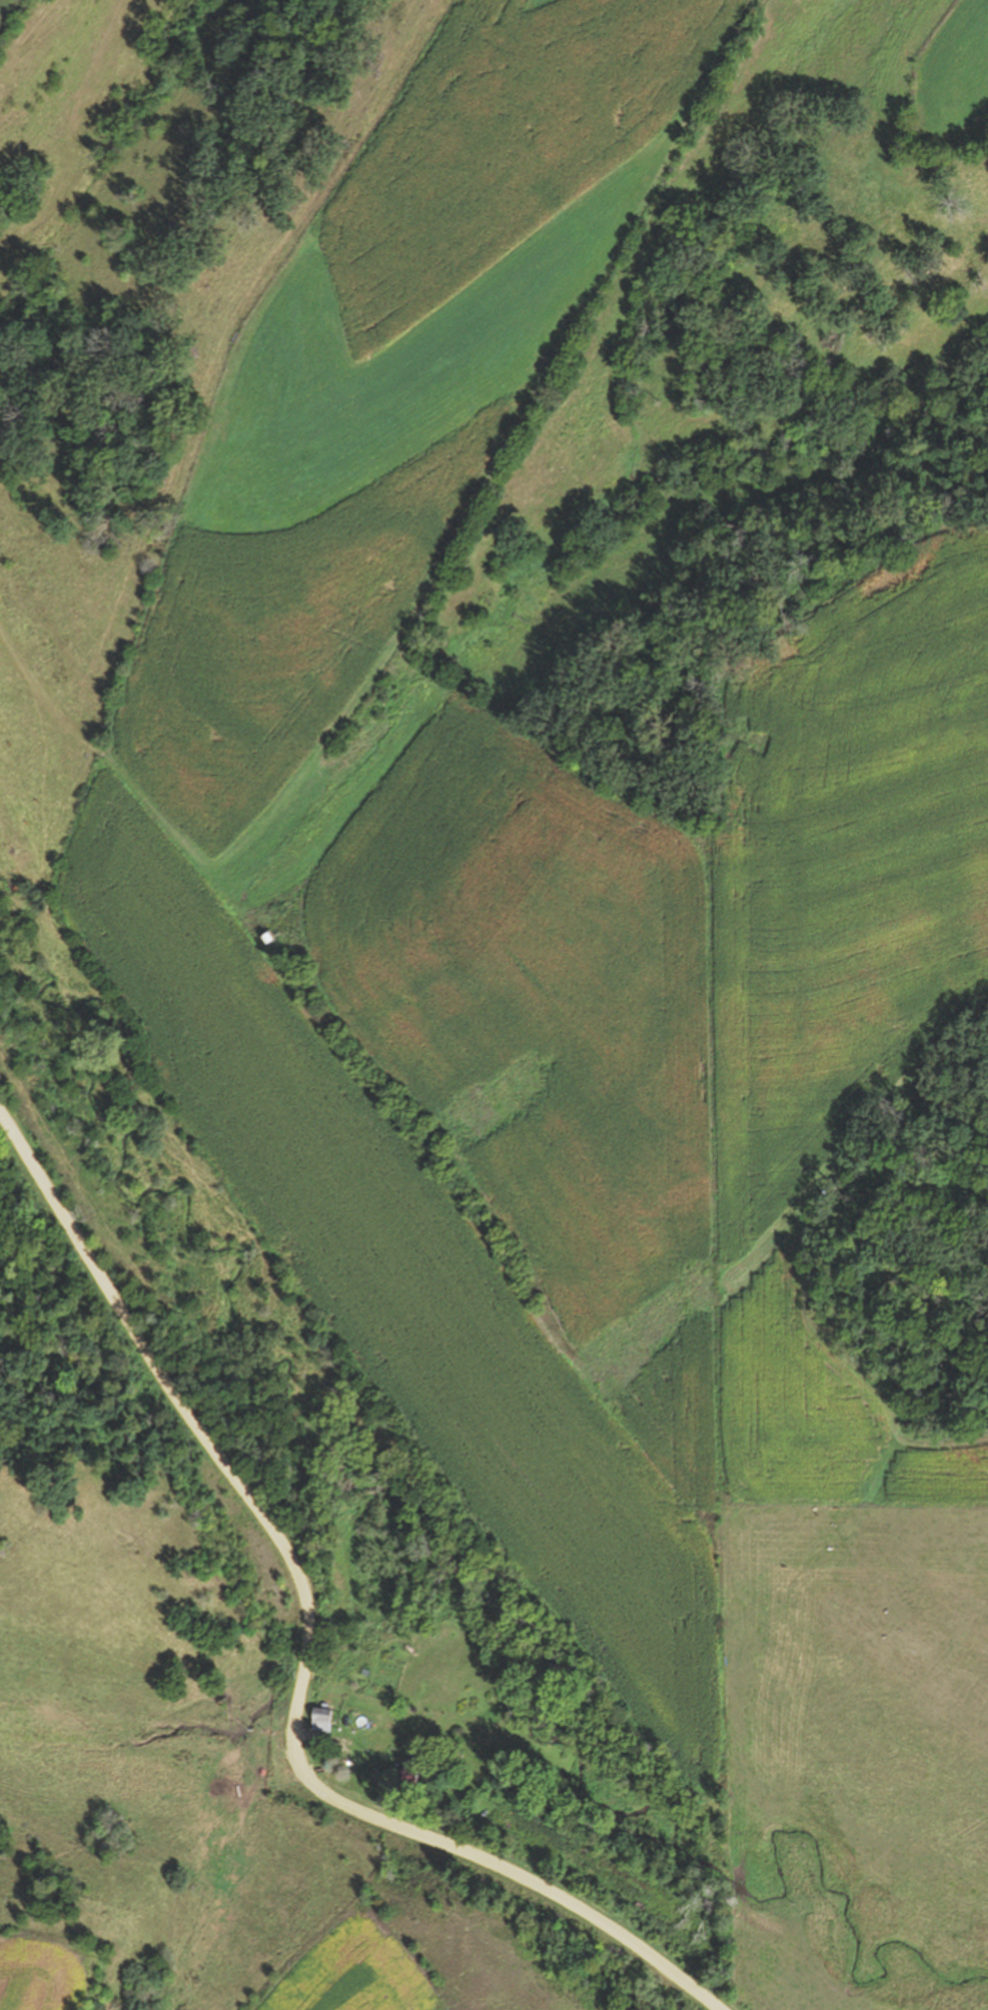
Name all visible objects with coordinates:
road: (304, 1643)
building: (321, 1720)
building: (410, 1773)

